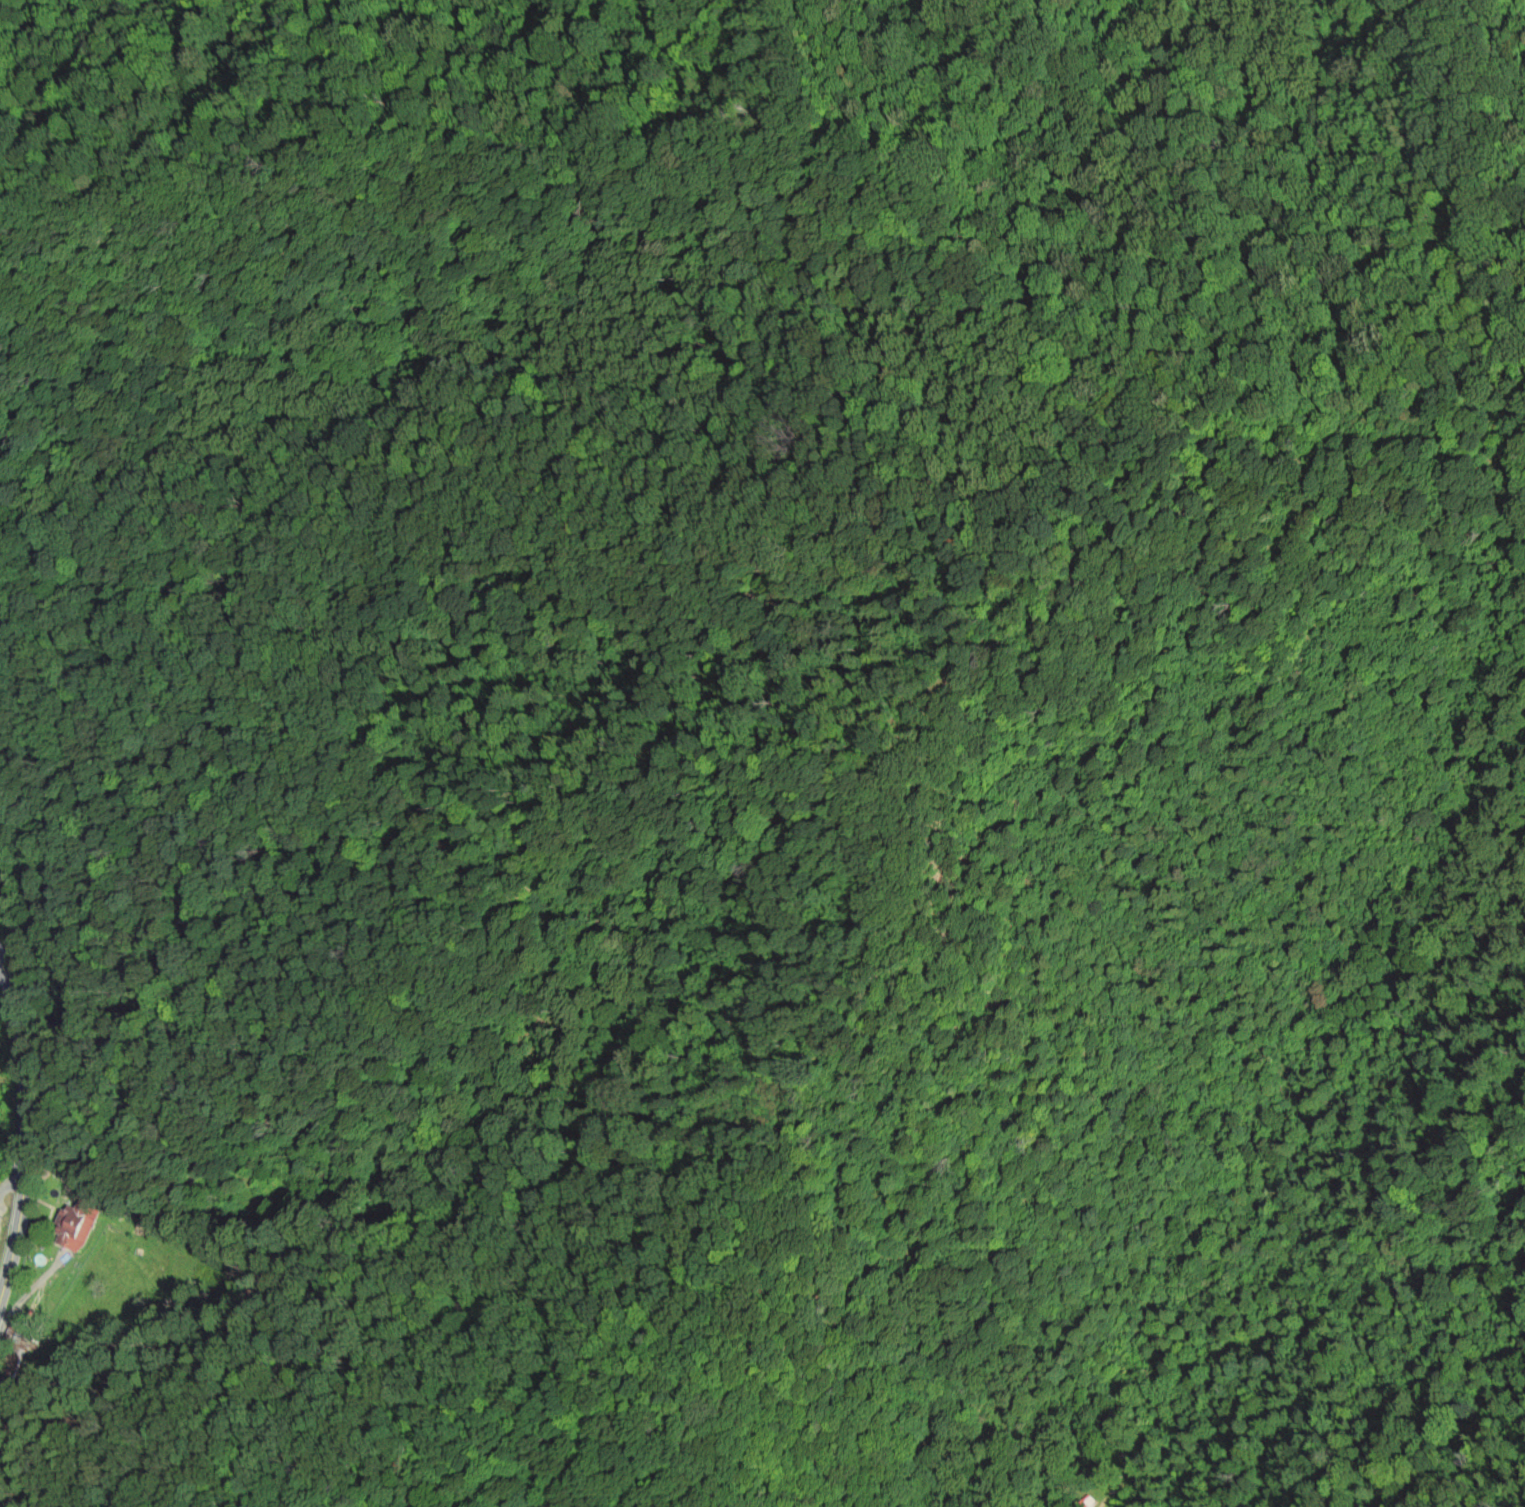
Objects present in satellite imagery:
road: (25, 1127)
road: (11, 1182)
building: (150, 1221)
building: (75, 1224)
building: (139, 1252)
building: (20, 1349)
building: (1088, 1500)

